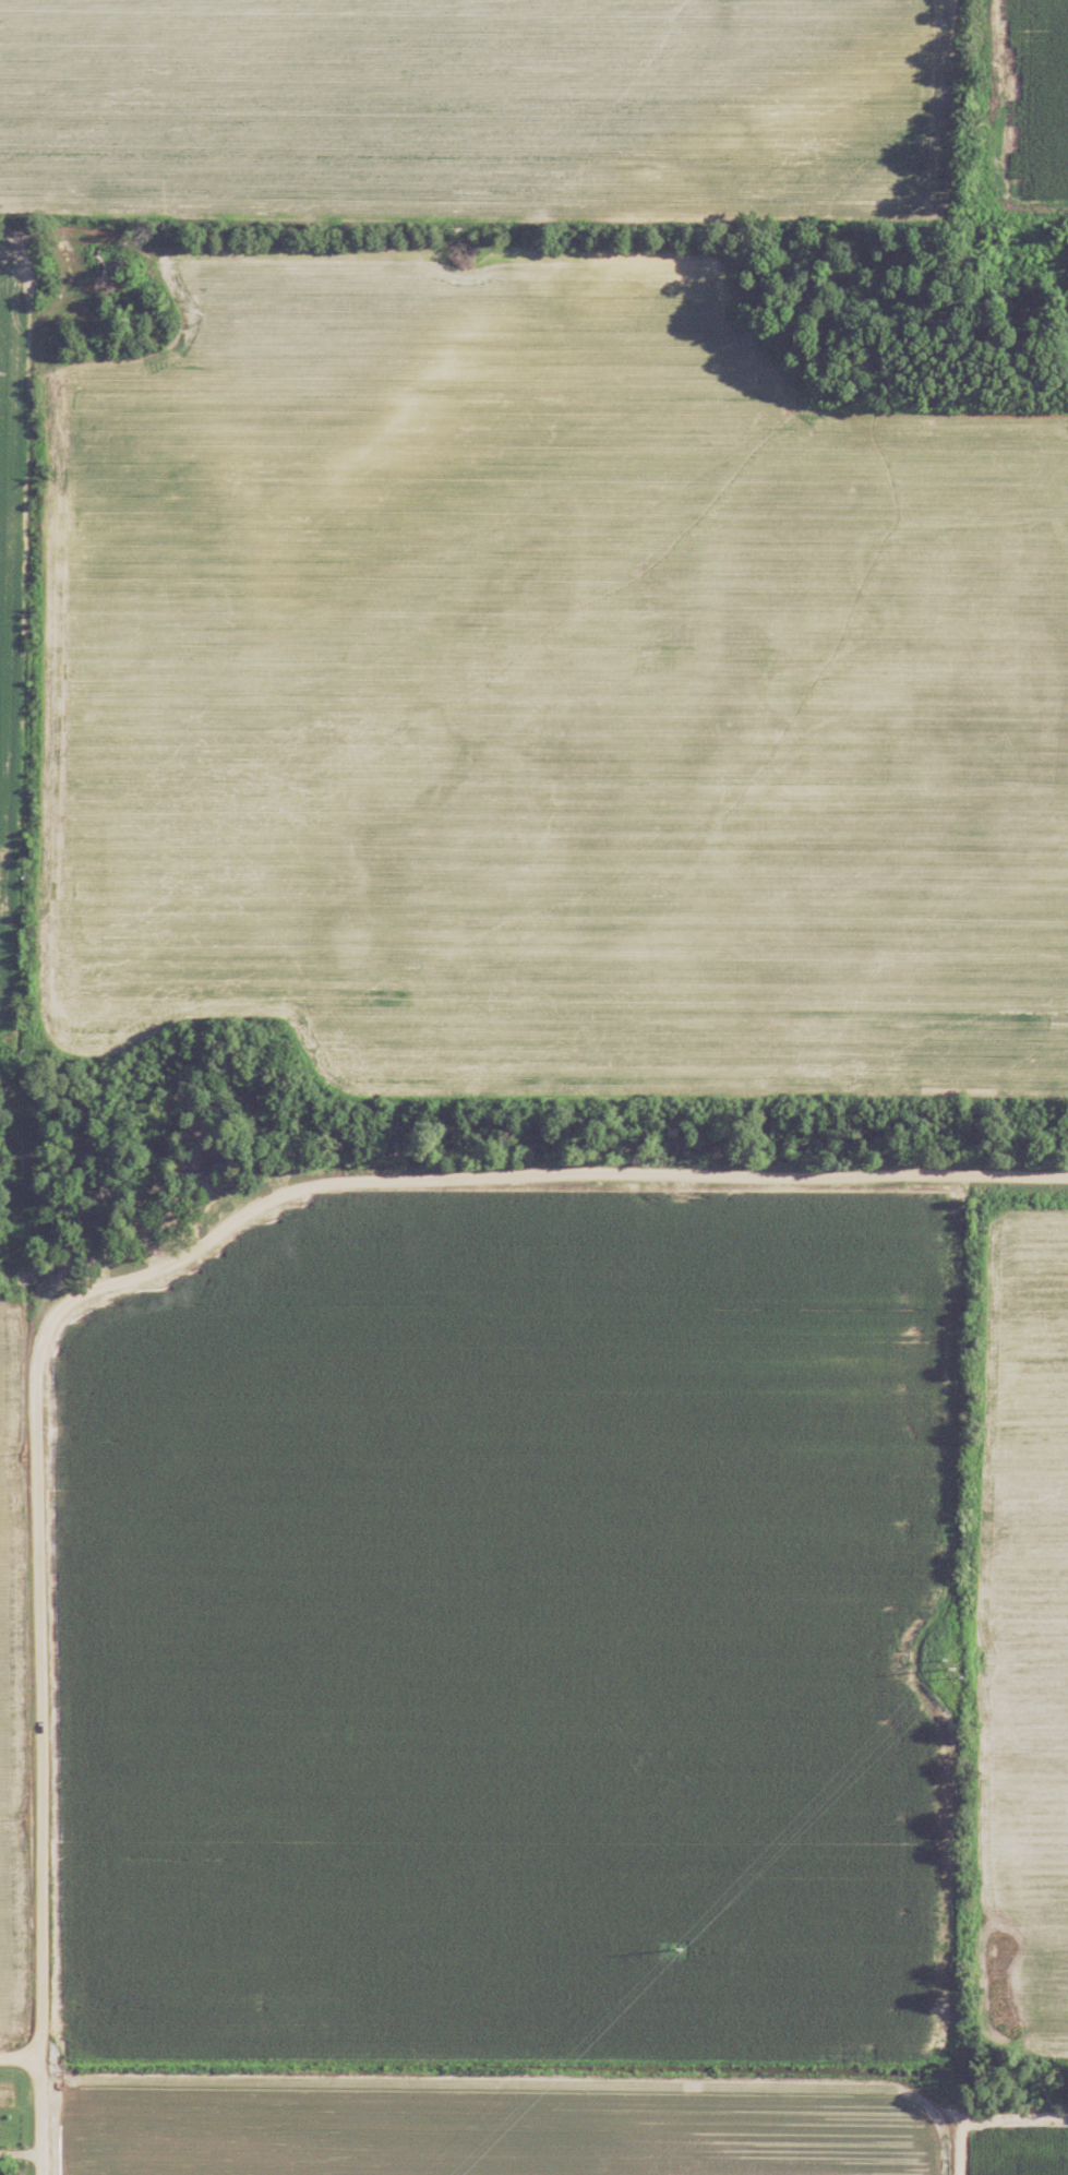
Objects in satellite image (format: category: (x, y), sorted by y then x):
road: (135, 1279)
power tower: (946, 1658)
power tower: (680, 1948)
road: (20, 2057)

